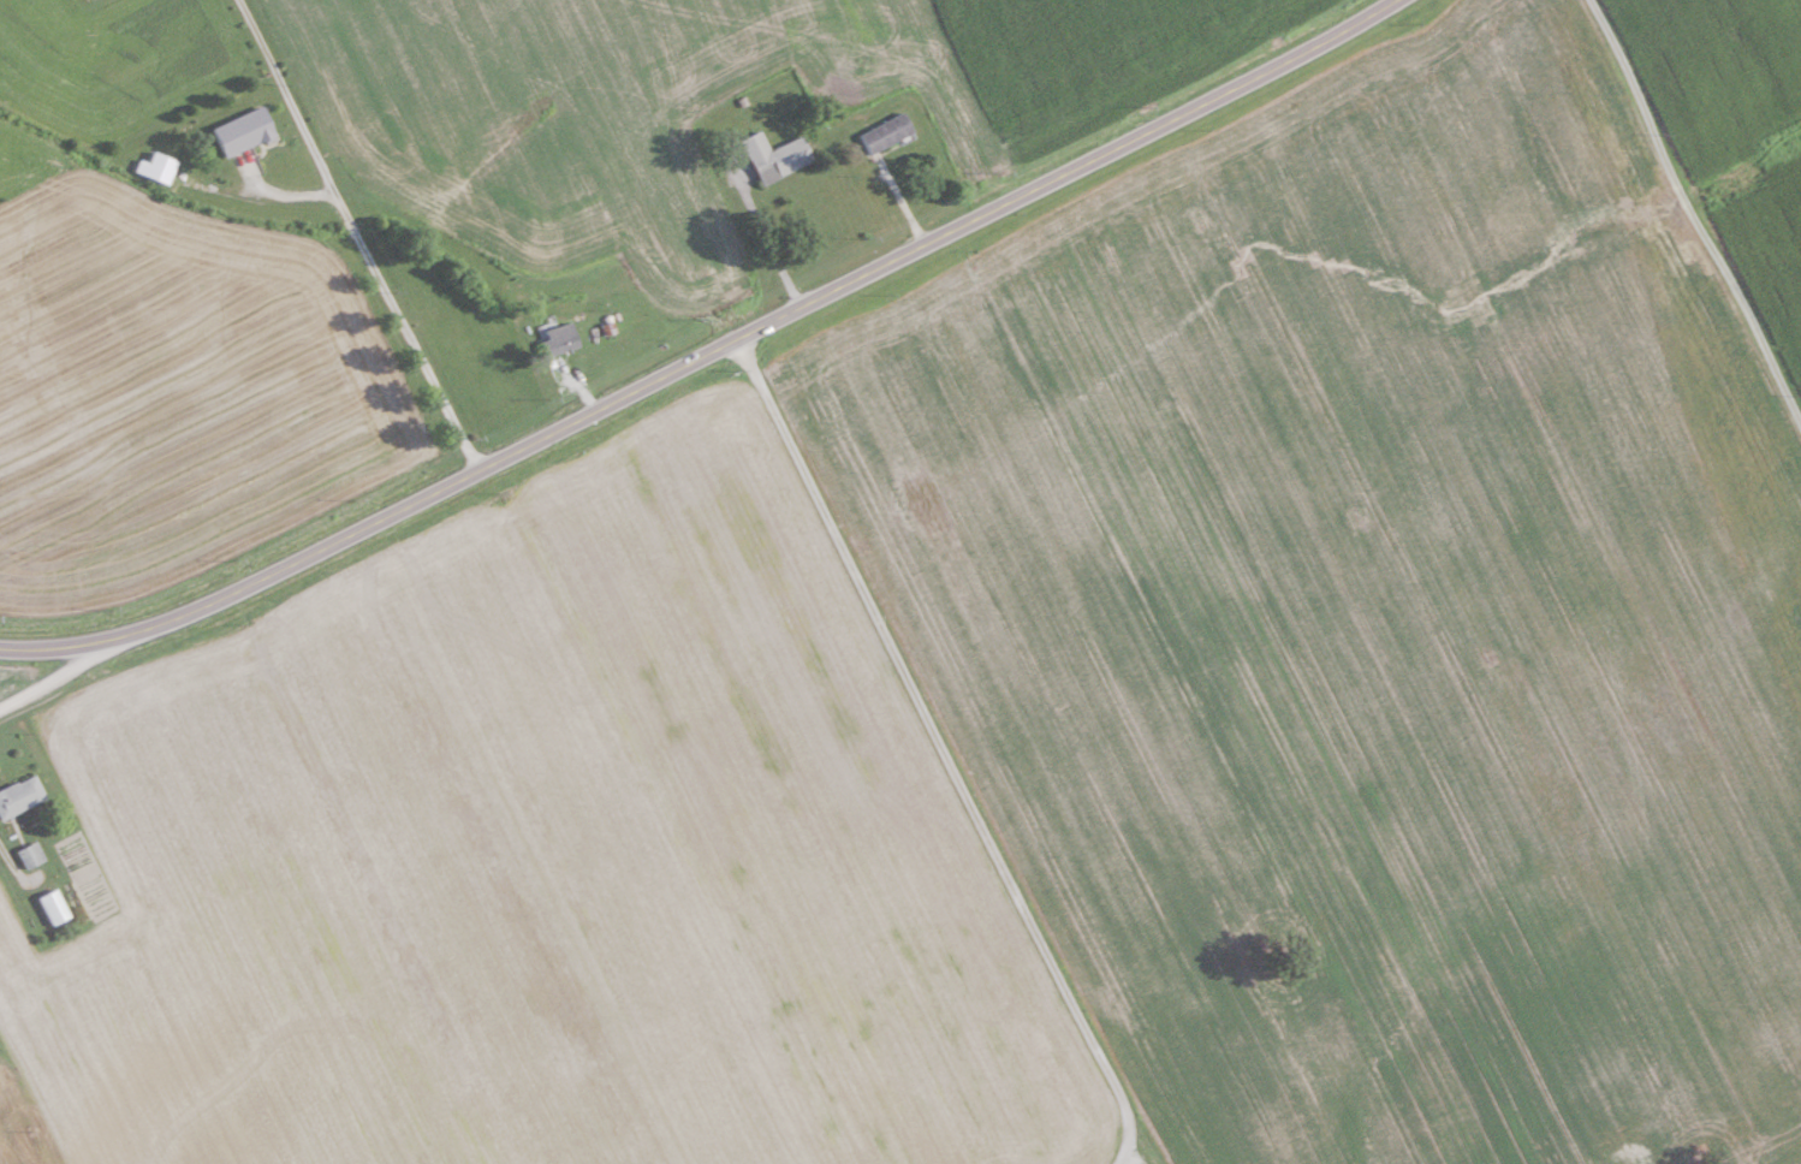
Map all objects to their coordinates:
building: (243, 132)
building: (887, 135)
building: (777, 158)
building: (157, 168)
road: (1689, 214)
road: (350, 239)
road: (768, 248)
building: (561, 339)
road: (711, 355)
road: (59, 675)
road: (941, 752)
building: (20, 796)
building: (32, 854)
building: (55, 905)

